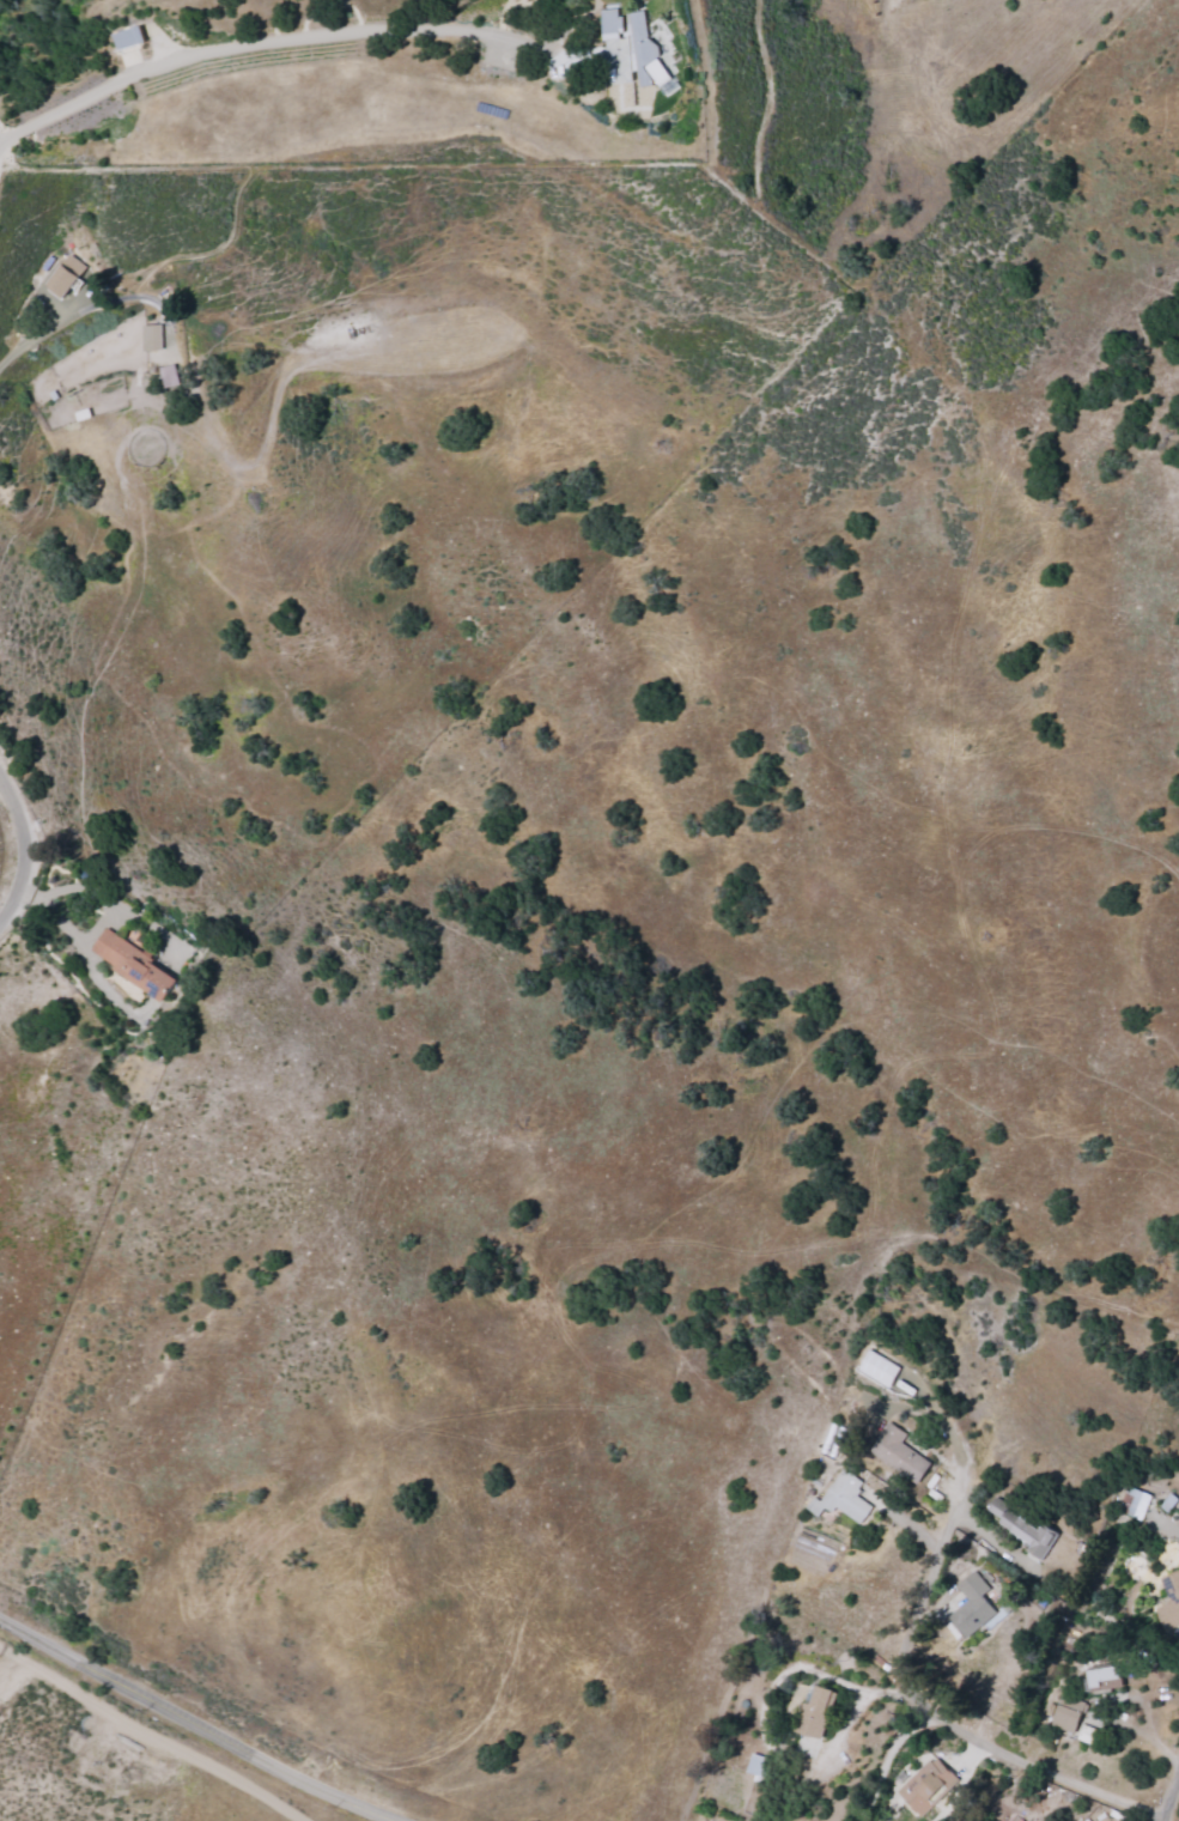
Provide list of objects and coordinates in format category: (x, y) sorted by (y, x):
building: (129, 38)
building: (640, 43)
road: (762, 103)
building: (65, 277)
building: (152, 336)
building: (170, 376)
road: (558, 418)
road: (23, 828)
road: (323, 839)
road: (57, 890)
building: (134, 965)
road: (1129, 1106)
road: (1124, 1380)
building: (901, 1452)
building: (843, 1498)
building: (1134, 1504)
building: (1022, 1528)
building: (1171, 1602)
building: (972, 1605)
building: (1108, 1677)
building: (818, 1712)
building: (1066, 1719)
road: (200, 1724)
building: (926, 1786)
road: (1171, 1797)

